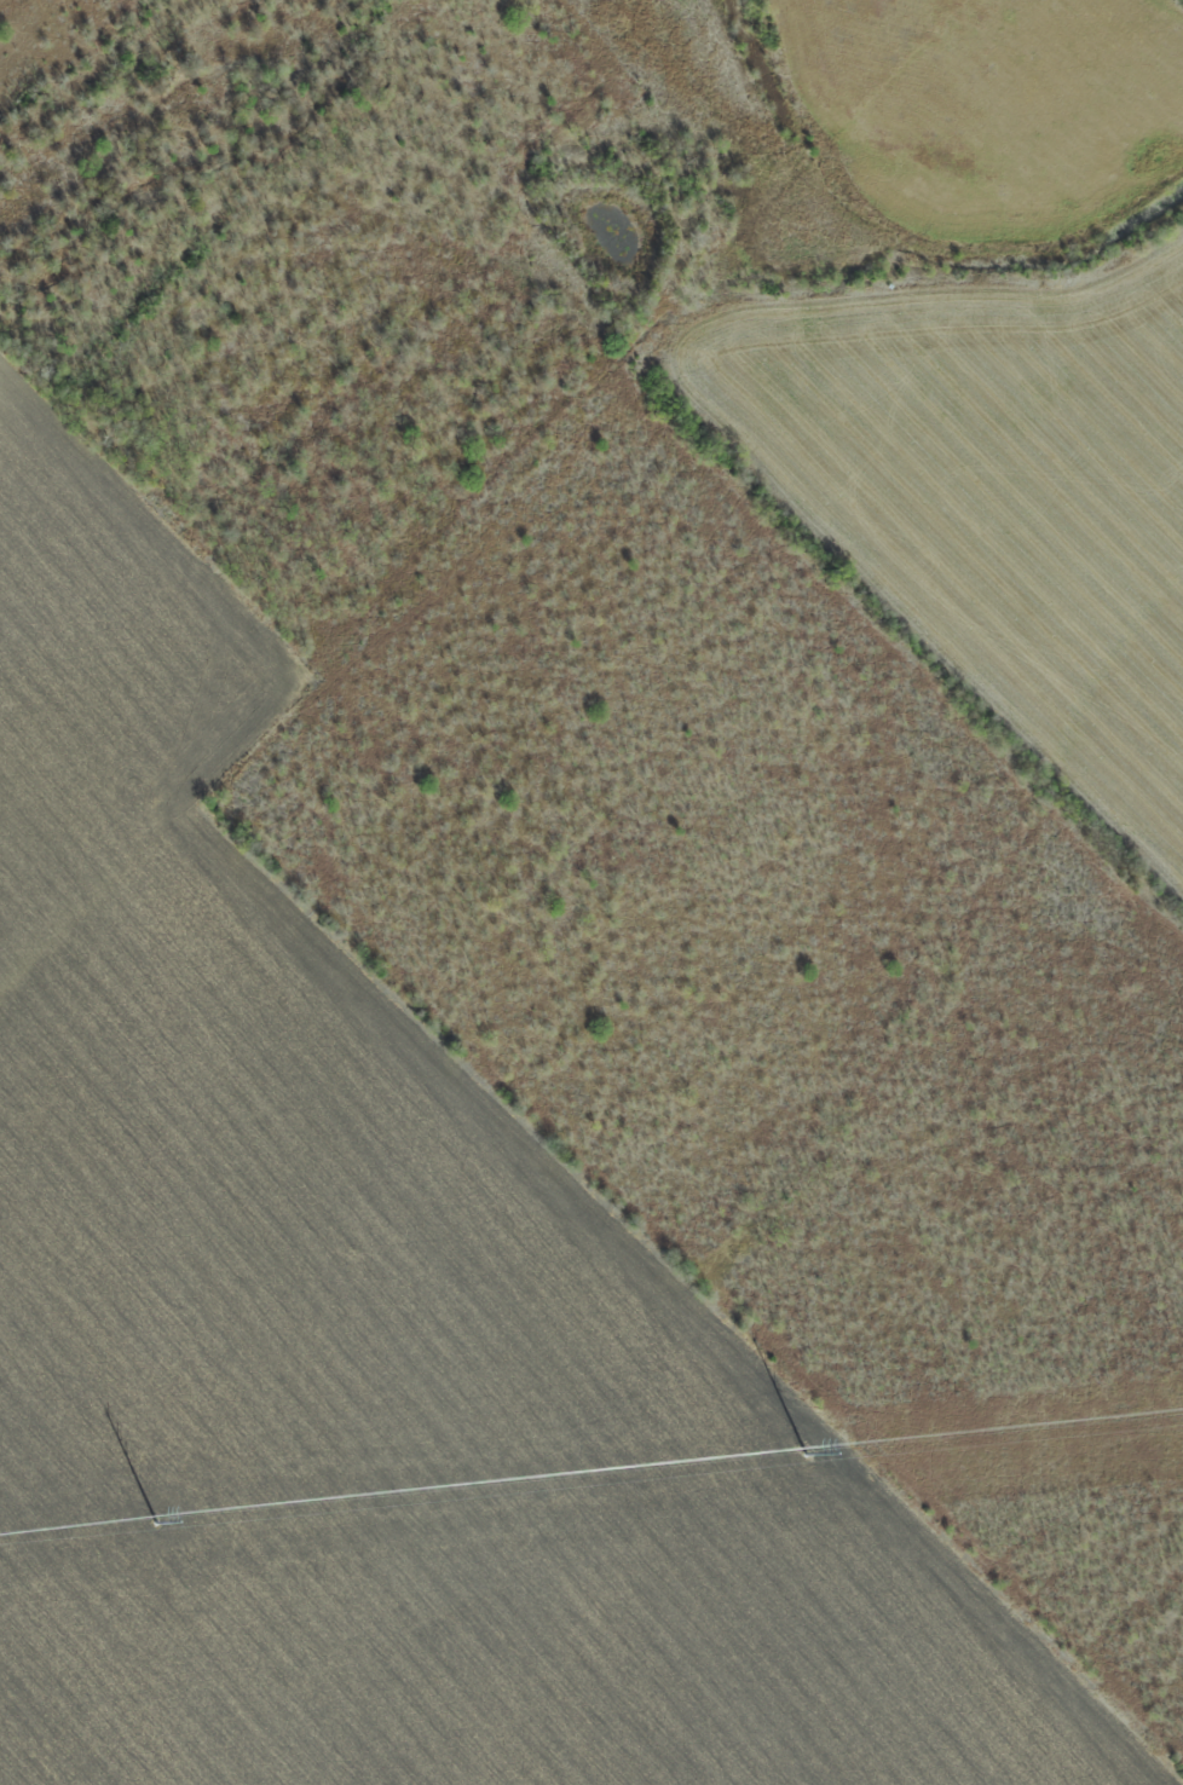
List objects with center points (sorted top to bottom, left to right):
power tower: (795, 1462)
power tower: (149, 1526)

